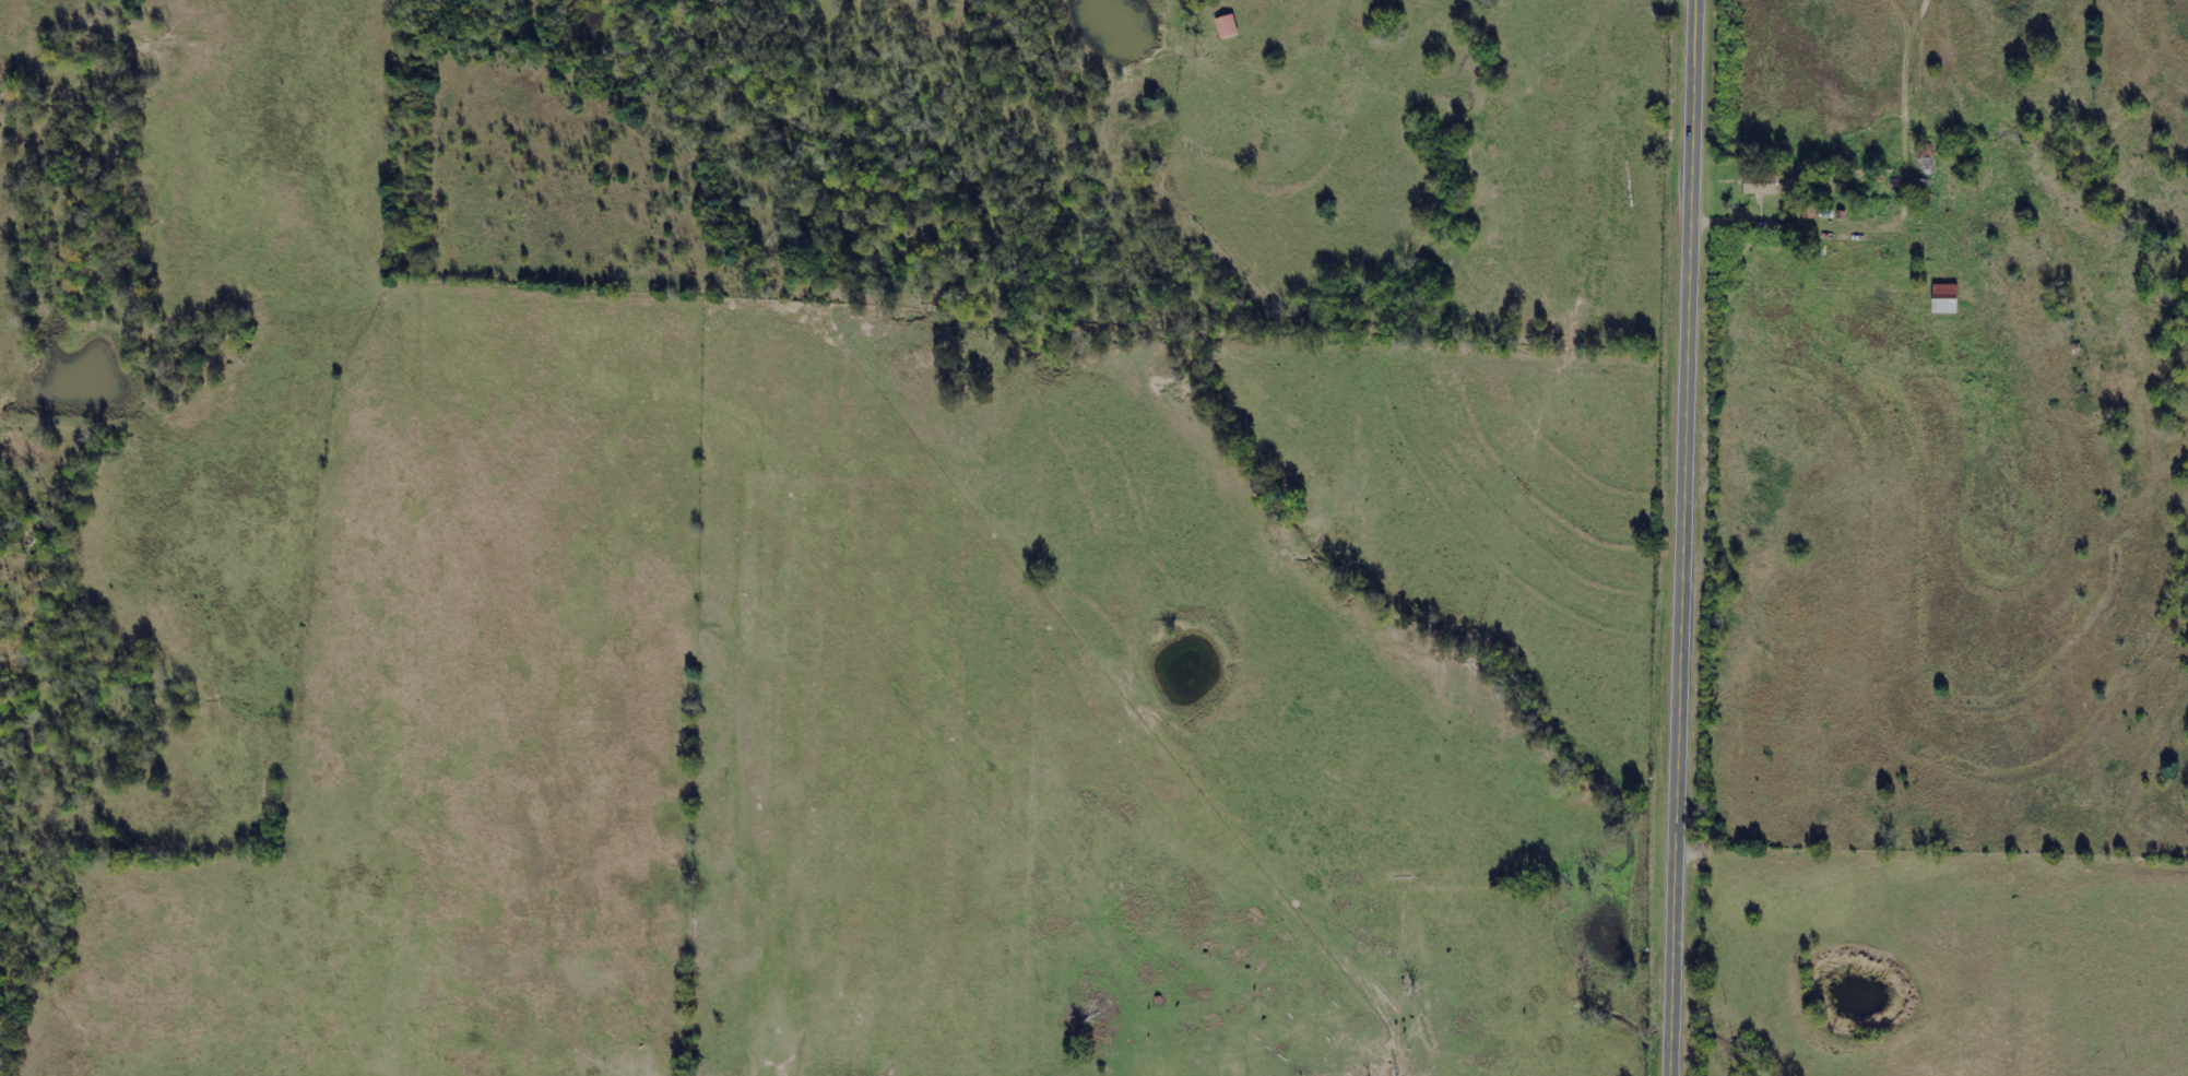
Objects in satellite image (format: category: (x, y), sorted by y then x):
building: (1230, 24)
building: (1762, 182)
building: (1949, 297)
road: (1681, 537)

